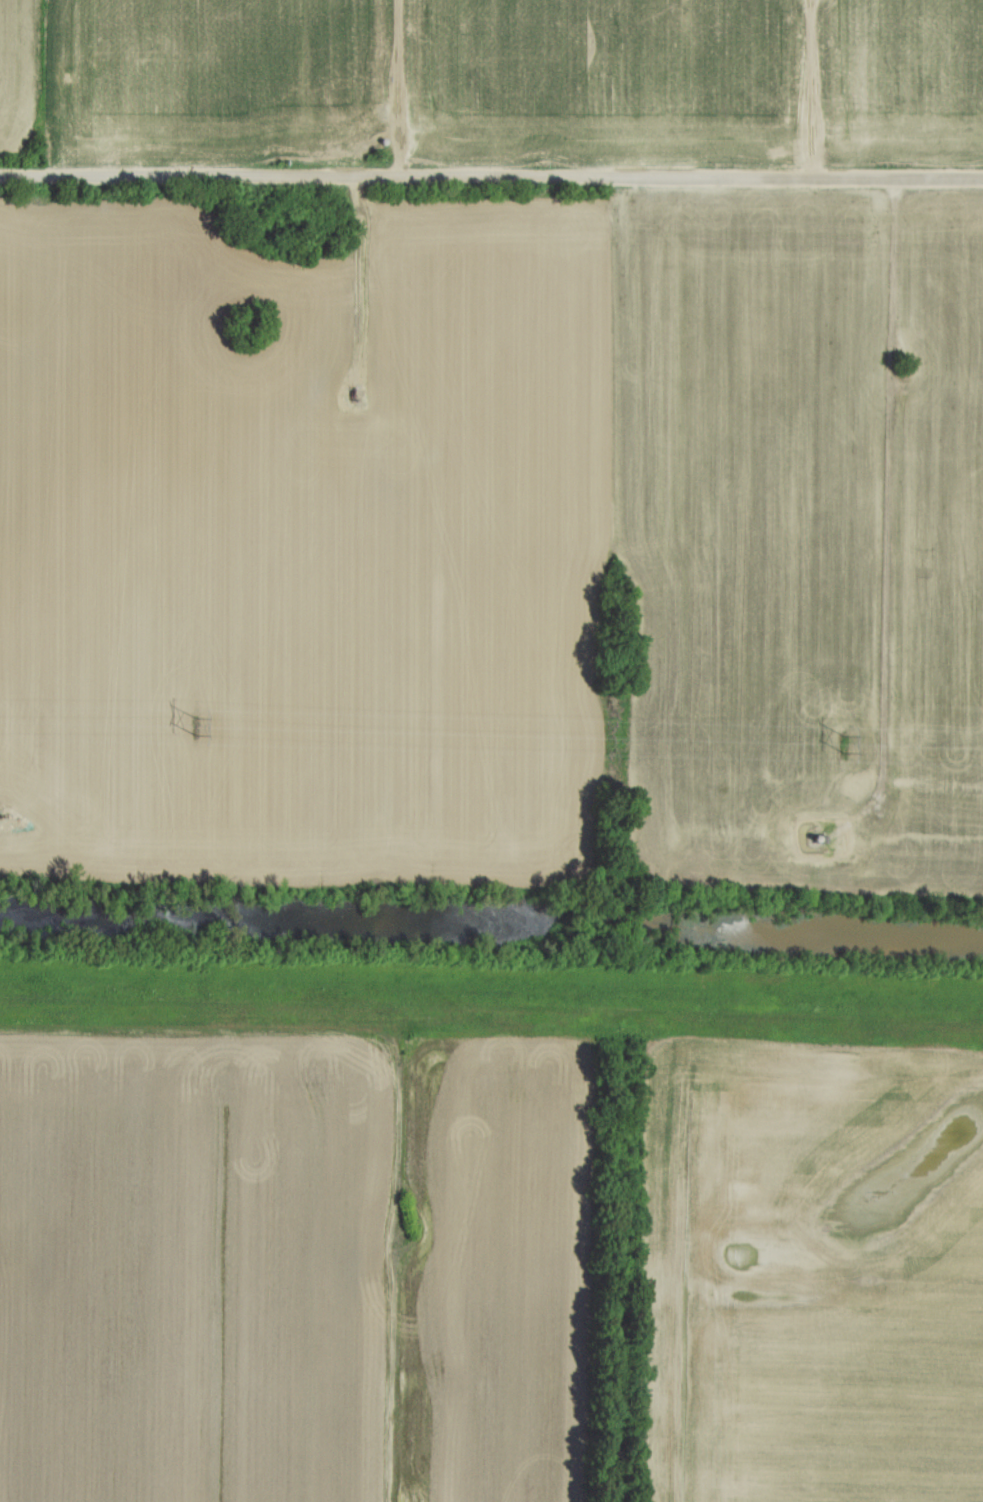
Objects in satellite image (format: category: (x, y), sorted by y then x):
road: (814, 88)
road: (400, 89)
road: (491, 178)
road: (360, 281)
road: (890, 520)
power tower: (198, 727)
power tower: (848, 747)
road: (401, 1072)
road: (905, 1280)

